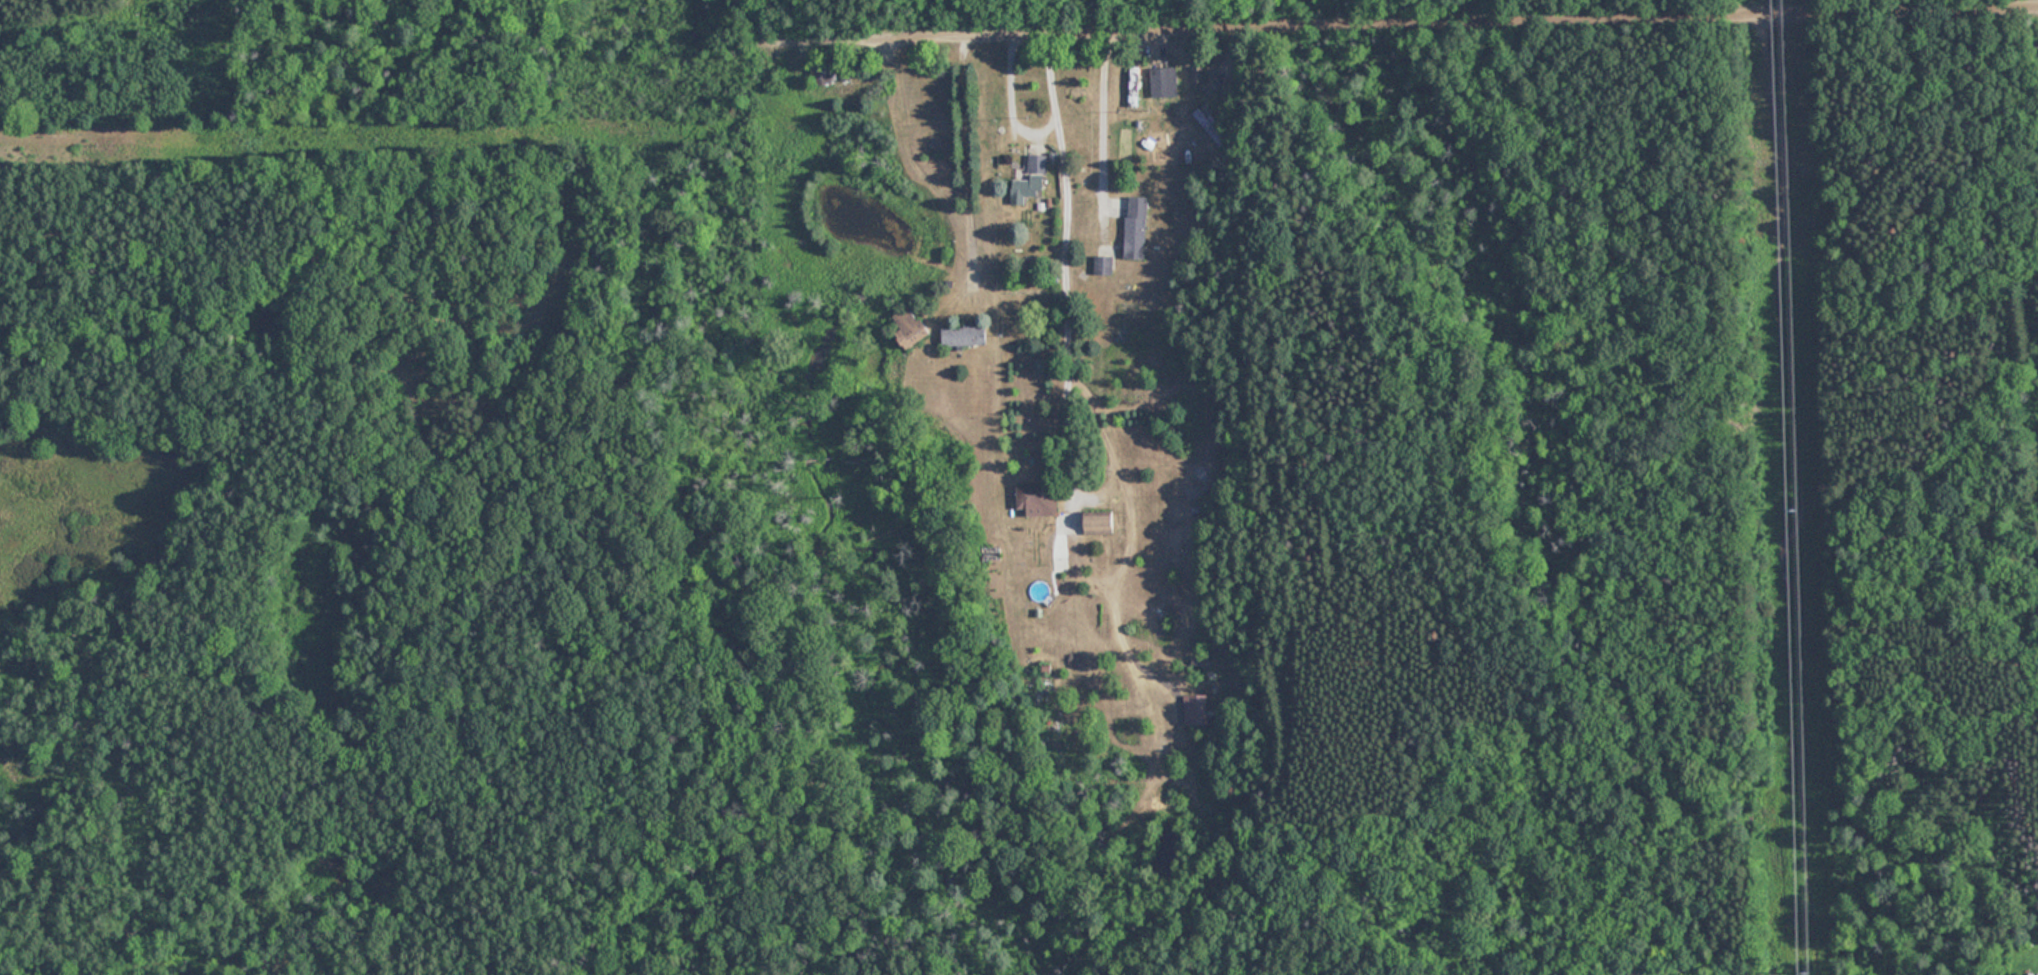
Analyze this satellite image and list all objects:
road: (1470, 27)
building: (821, 72)
building: (1164, 81)
building: (1134, 85)
road: (961, 157)
building: (1030, 180)
building: (1136, 226)
building: (1103, 264)
road: (1084, 292)
building: (912, 325)
building: (966, 334)
park: (399, 491)
building: (1035, 497)
power tower: (1790, 508)
building: (1100, 522)
road: (1709, 968)
power tower: (1804, 973)

